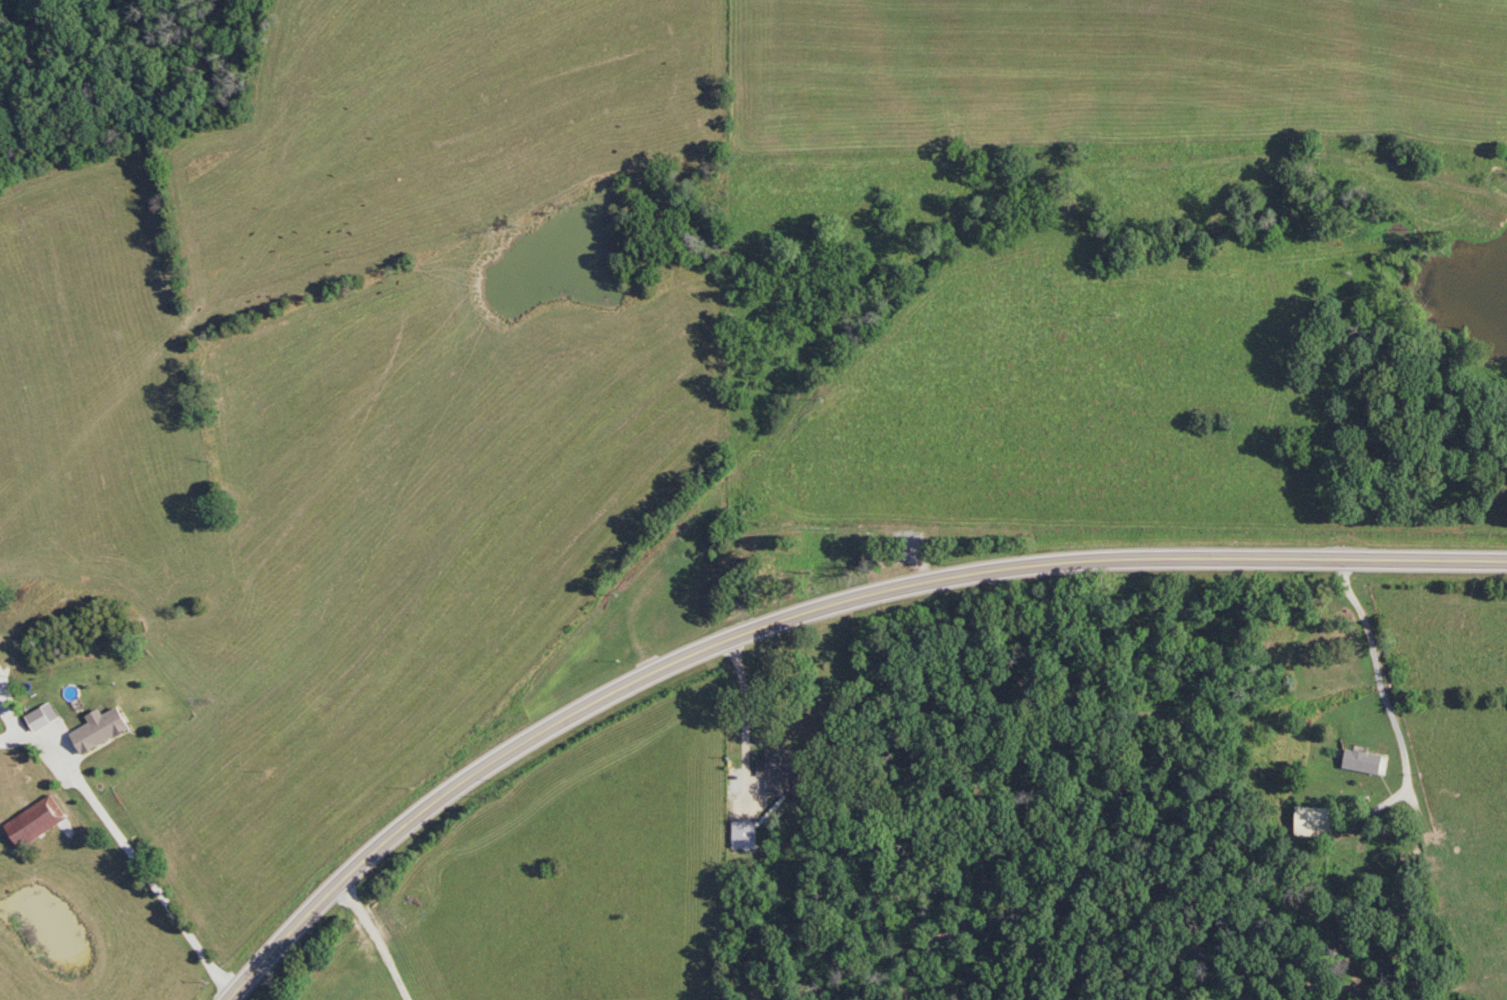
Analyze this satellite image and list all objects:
road: (807, 614)
building: (0, 644)
building: (33, 720)
road: (739, 726)
building: (1362, 763)
building: (772, 771)
building: (1309, 821)
building: (31, 823)
building: (740, 834)
road: (155, 894)

